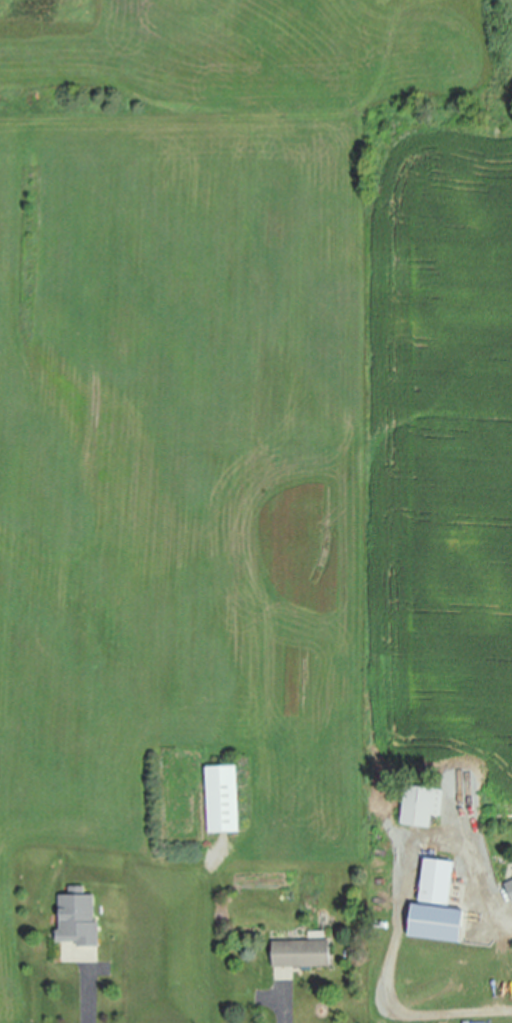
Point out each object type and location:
building: (490, 791)
building: (224, 798)
building: (422, 804)
building: (438, 880)
building: (510, 886)
road: (404, 906)
building: (79, 918)
building: (437, 922)
building: (302, 952)

